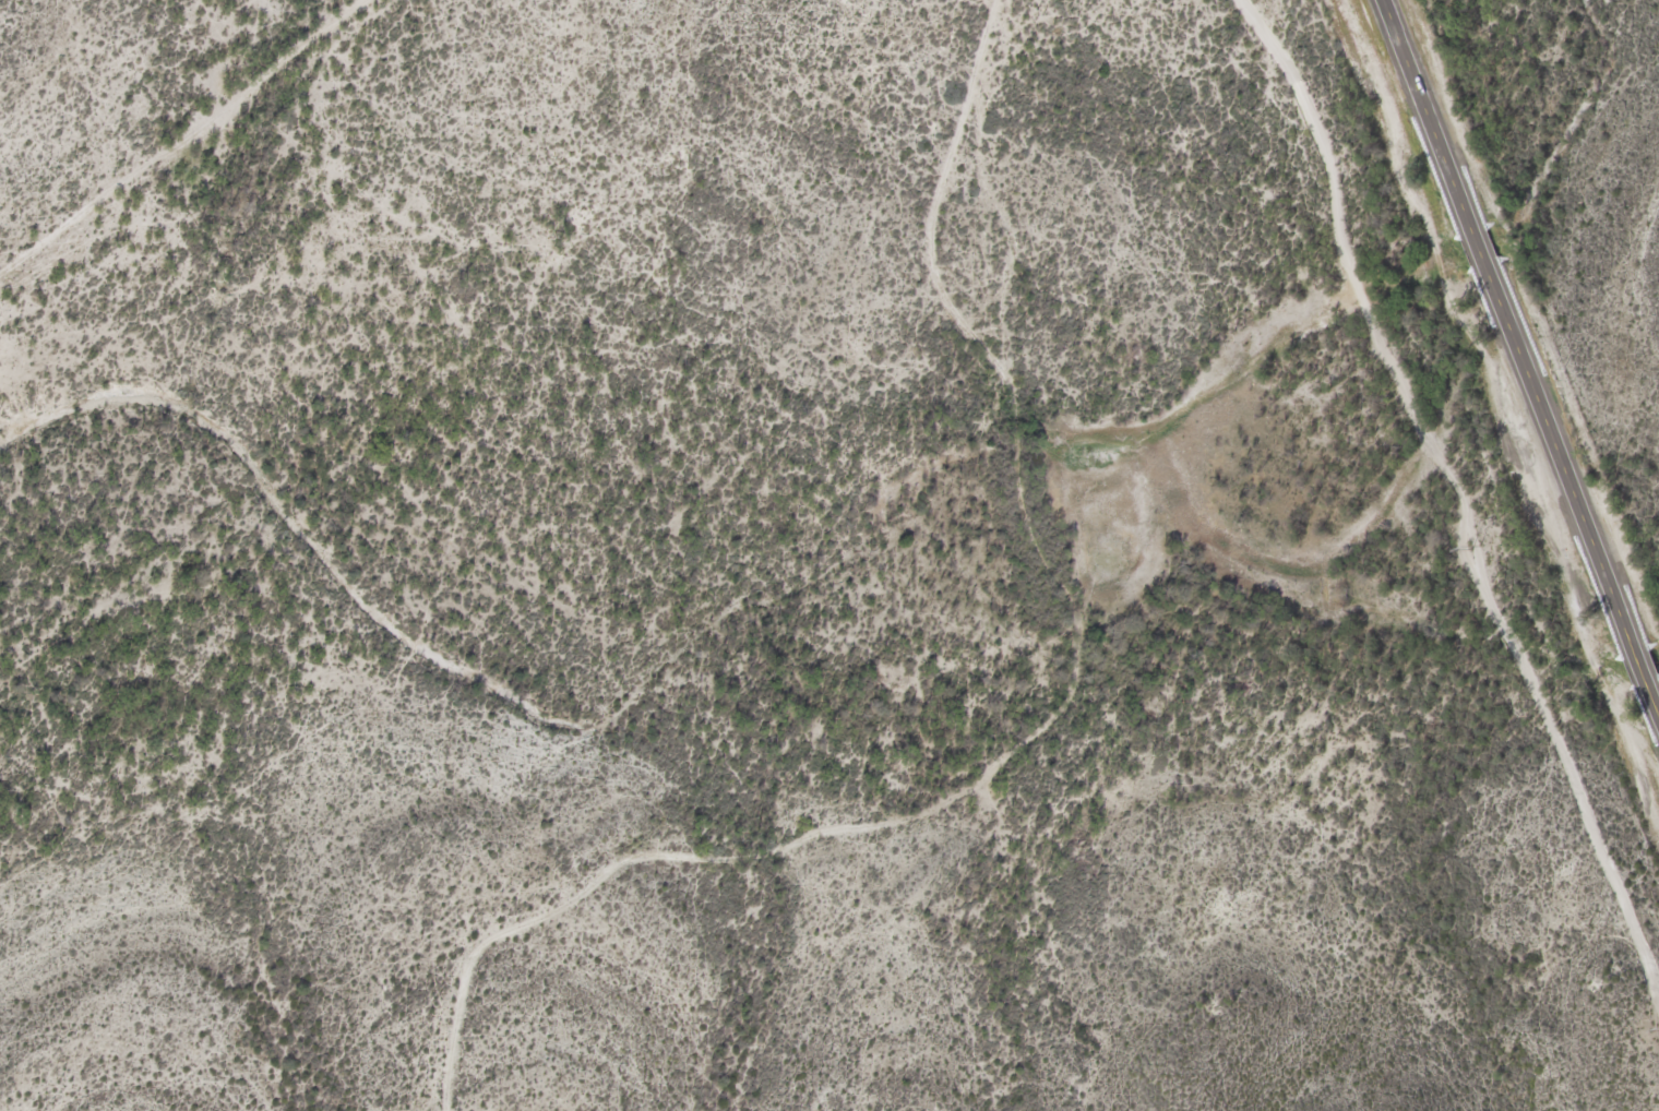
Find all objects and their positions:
road: (1521, 350)
power tower: (1473, 549)
road: (1051, 750)

